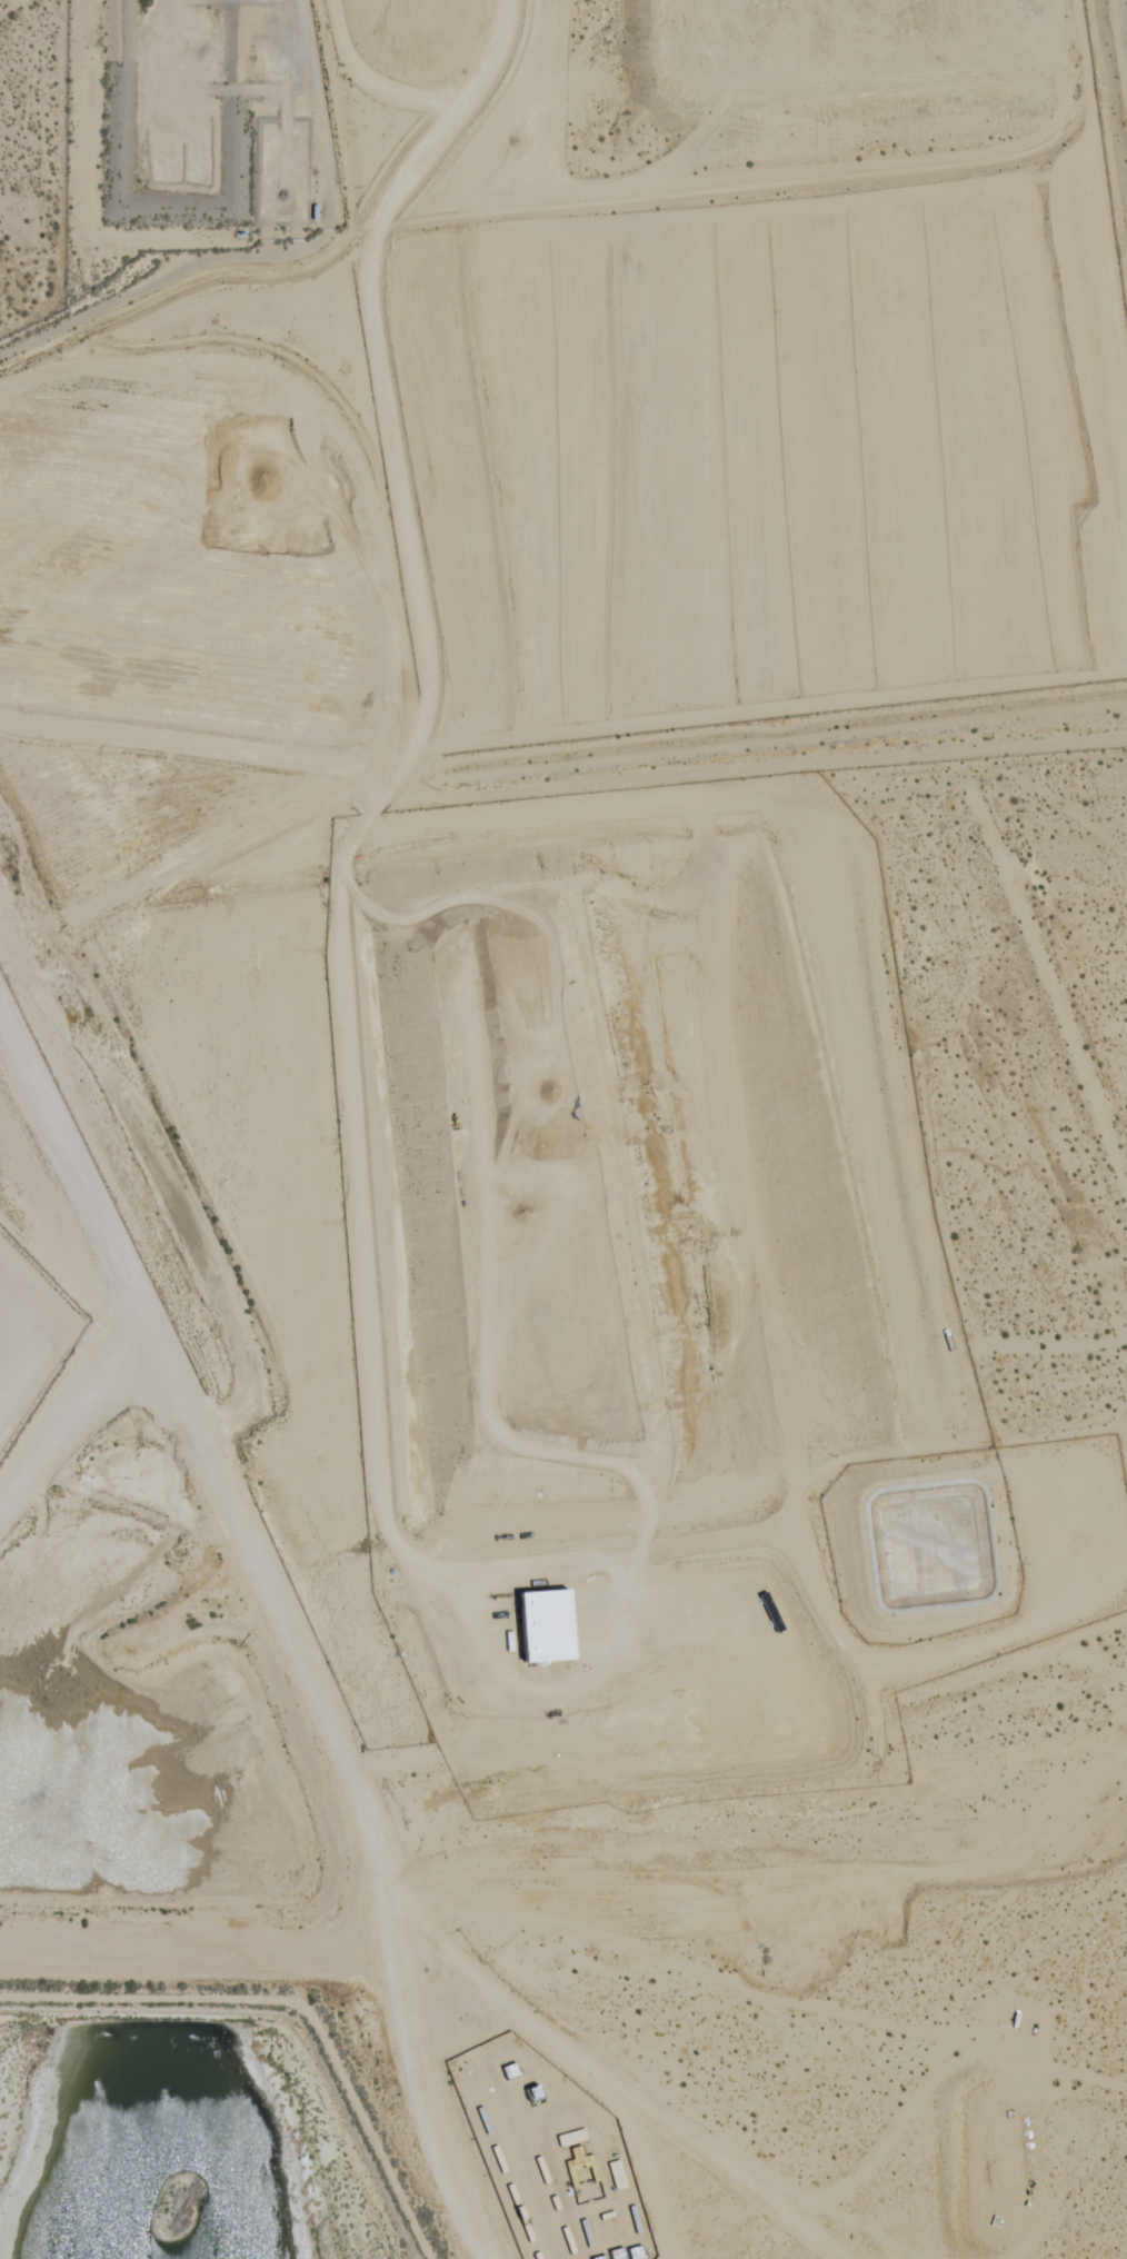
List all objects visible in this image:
road: (67, 1167)
road: (64, 1406)
building: (550, 1626)
road: (335, 1774)
building: (537, 2094)
building: (588, 2191)
building: (637, 2253)

